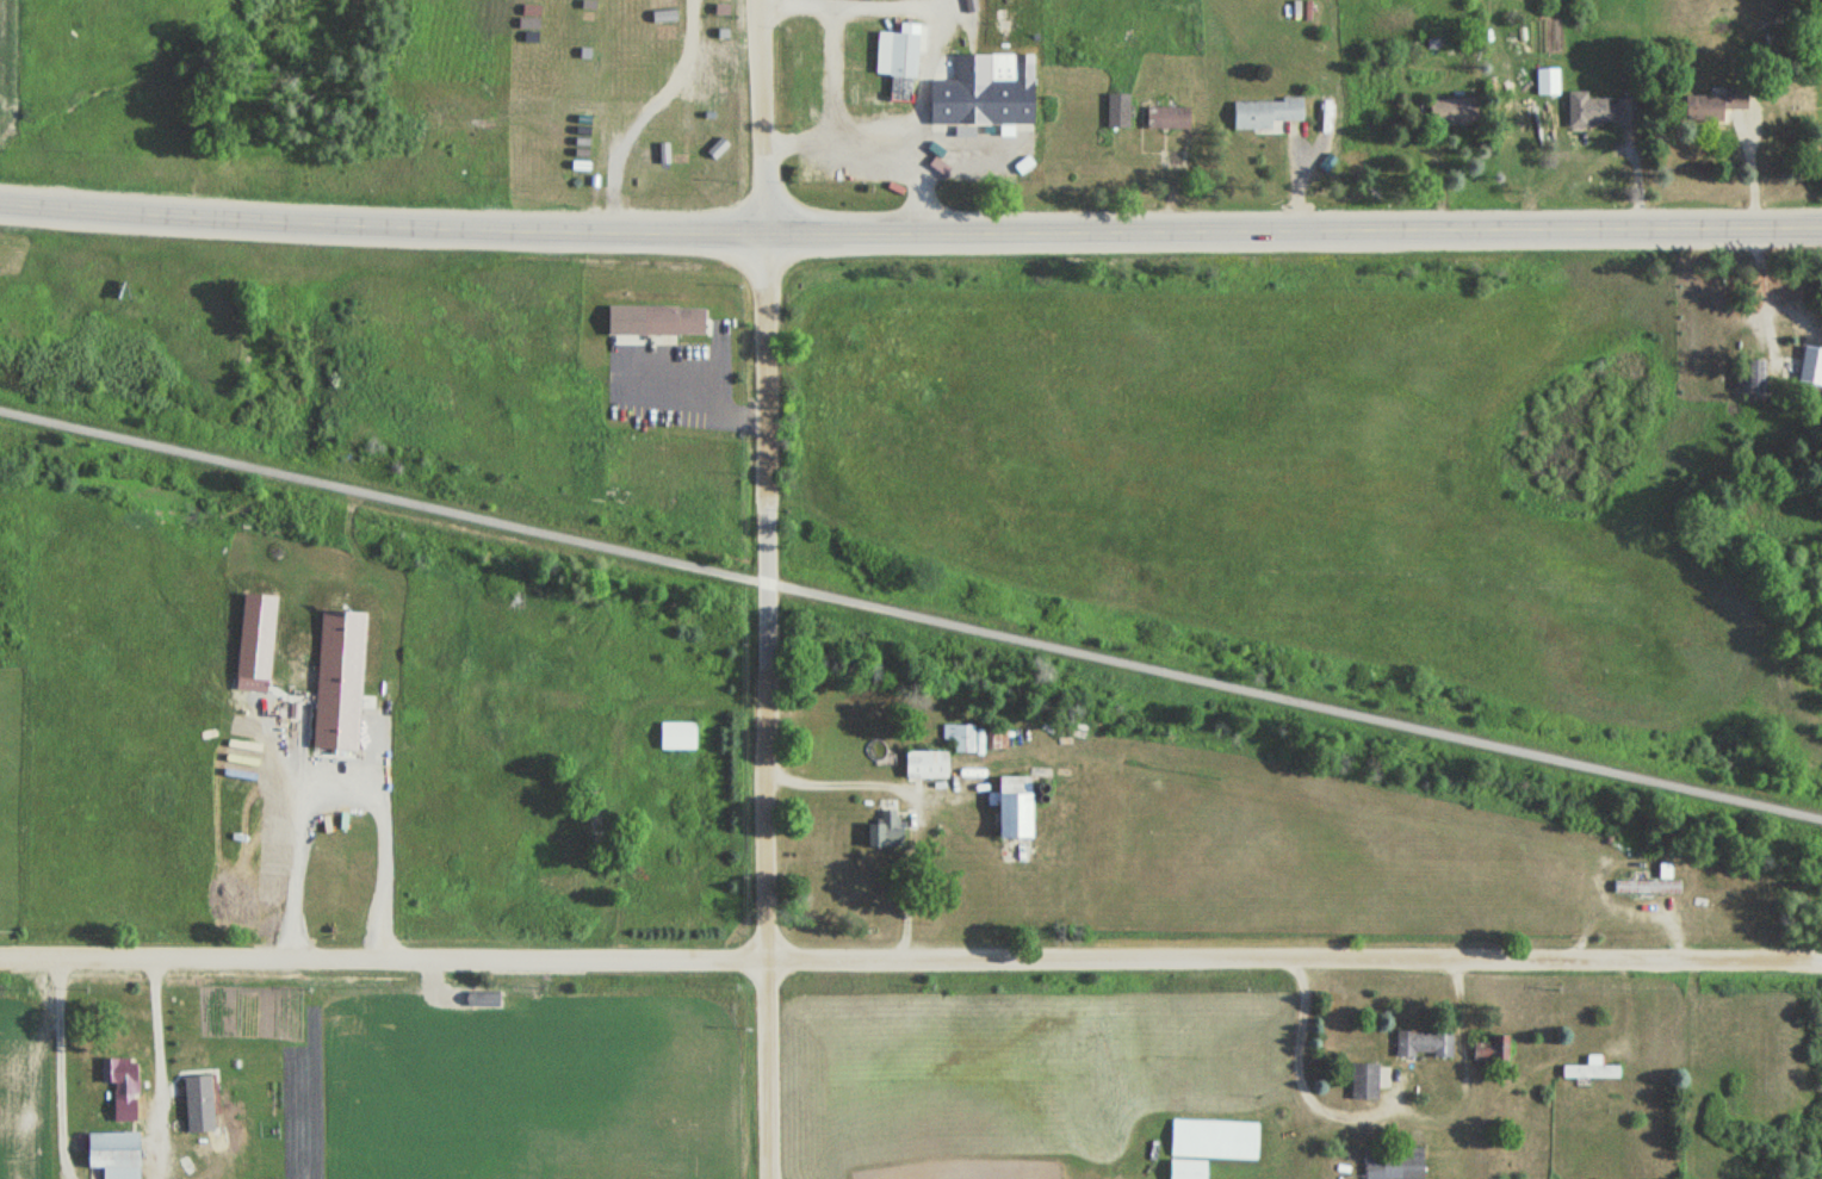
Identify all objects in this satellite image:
building: (895, 62)
road: (766, 74)
building: (581, 80)
building: (1548, 81)
building: (981, 93)
building: (1708, 106)
building: (1117, 111)
building: (1593, 111)
building: (1458, 112)
building: (1264, 113)
building: (1167, 118)
road: (767, 216)
road: (910, 234)
building: (670, 321)
building: (1803, 370)
building: (1753, 376)
road: (767, 390)
road: (768, 571)
road: (911, 618)
building: (674, 737)
building: (979, 738)
building: (922, 765)
building: (1006, 808)
building: (885, 832)
building: (1644, 886)
road: (769, 913)
road: (910, 960)
building: (1425, 1044)
building: (1487, 1050)
building: (1589, 1071)
building: (122, 1081)
building: (1364, 1081)
building: (1213, 1140)
building: (110, 1154)
building: (1395, 1165)
building: (1185, 1169)

